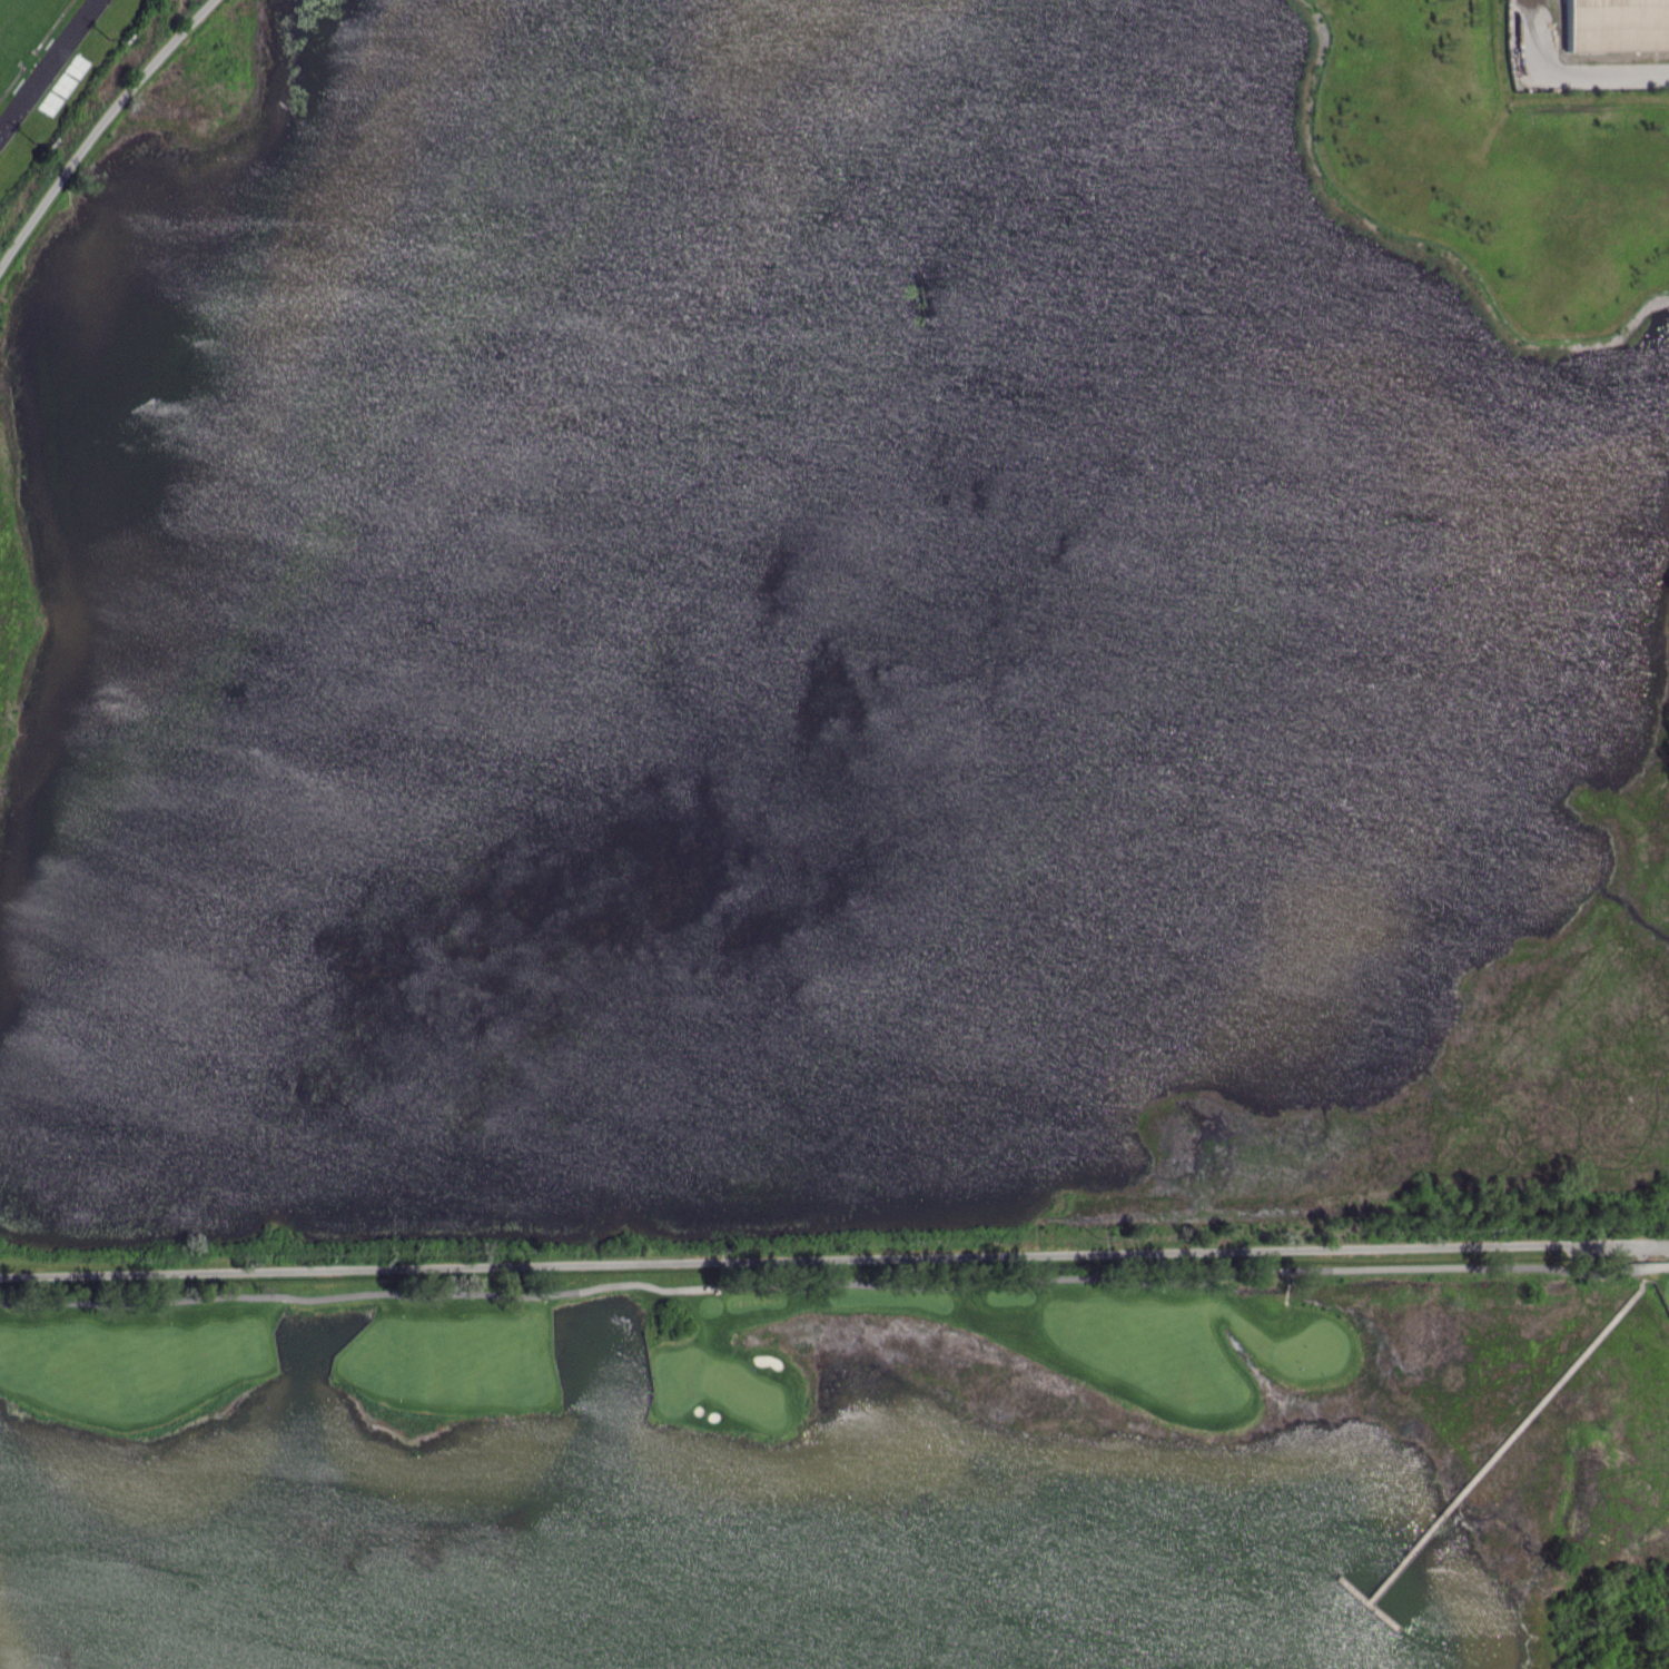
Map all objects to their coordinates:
building: (1618, 27)
park: (20, 28)
track: (48, 66)
park: (62, 80)
road: (96, 127)
road: (834, 1261)
road: (834, 1286)
road: (1492, 1458)
park: (846, 1469)
road: (1380, 1614)

